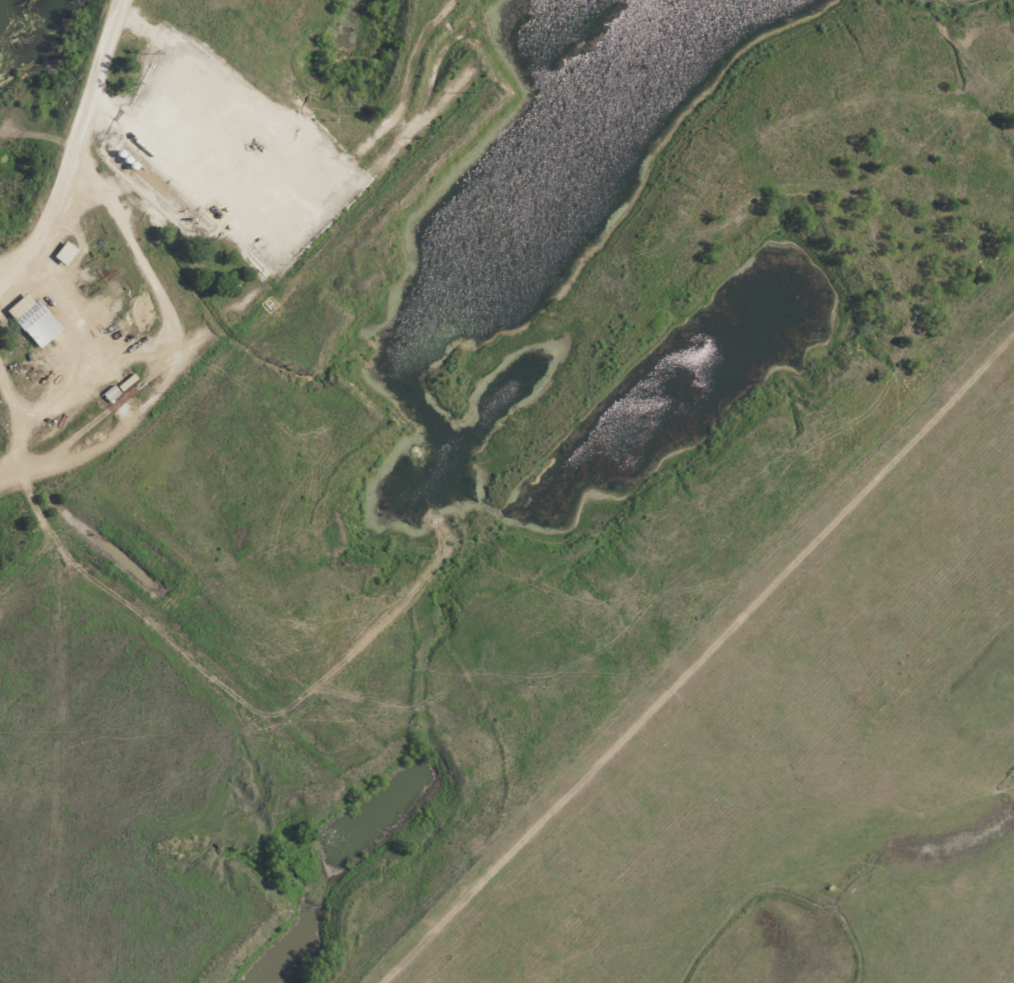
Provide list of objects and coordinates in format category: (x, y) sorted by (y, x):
building: (62, 253)
road: (289, 256)
building: (26, 314)

